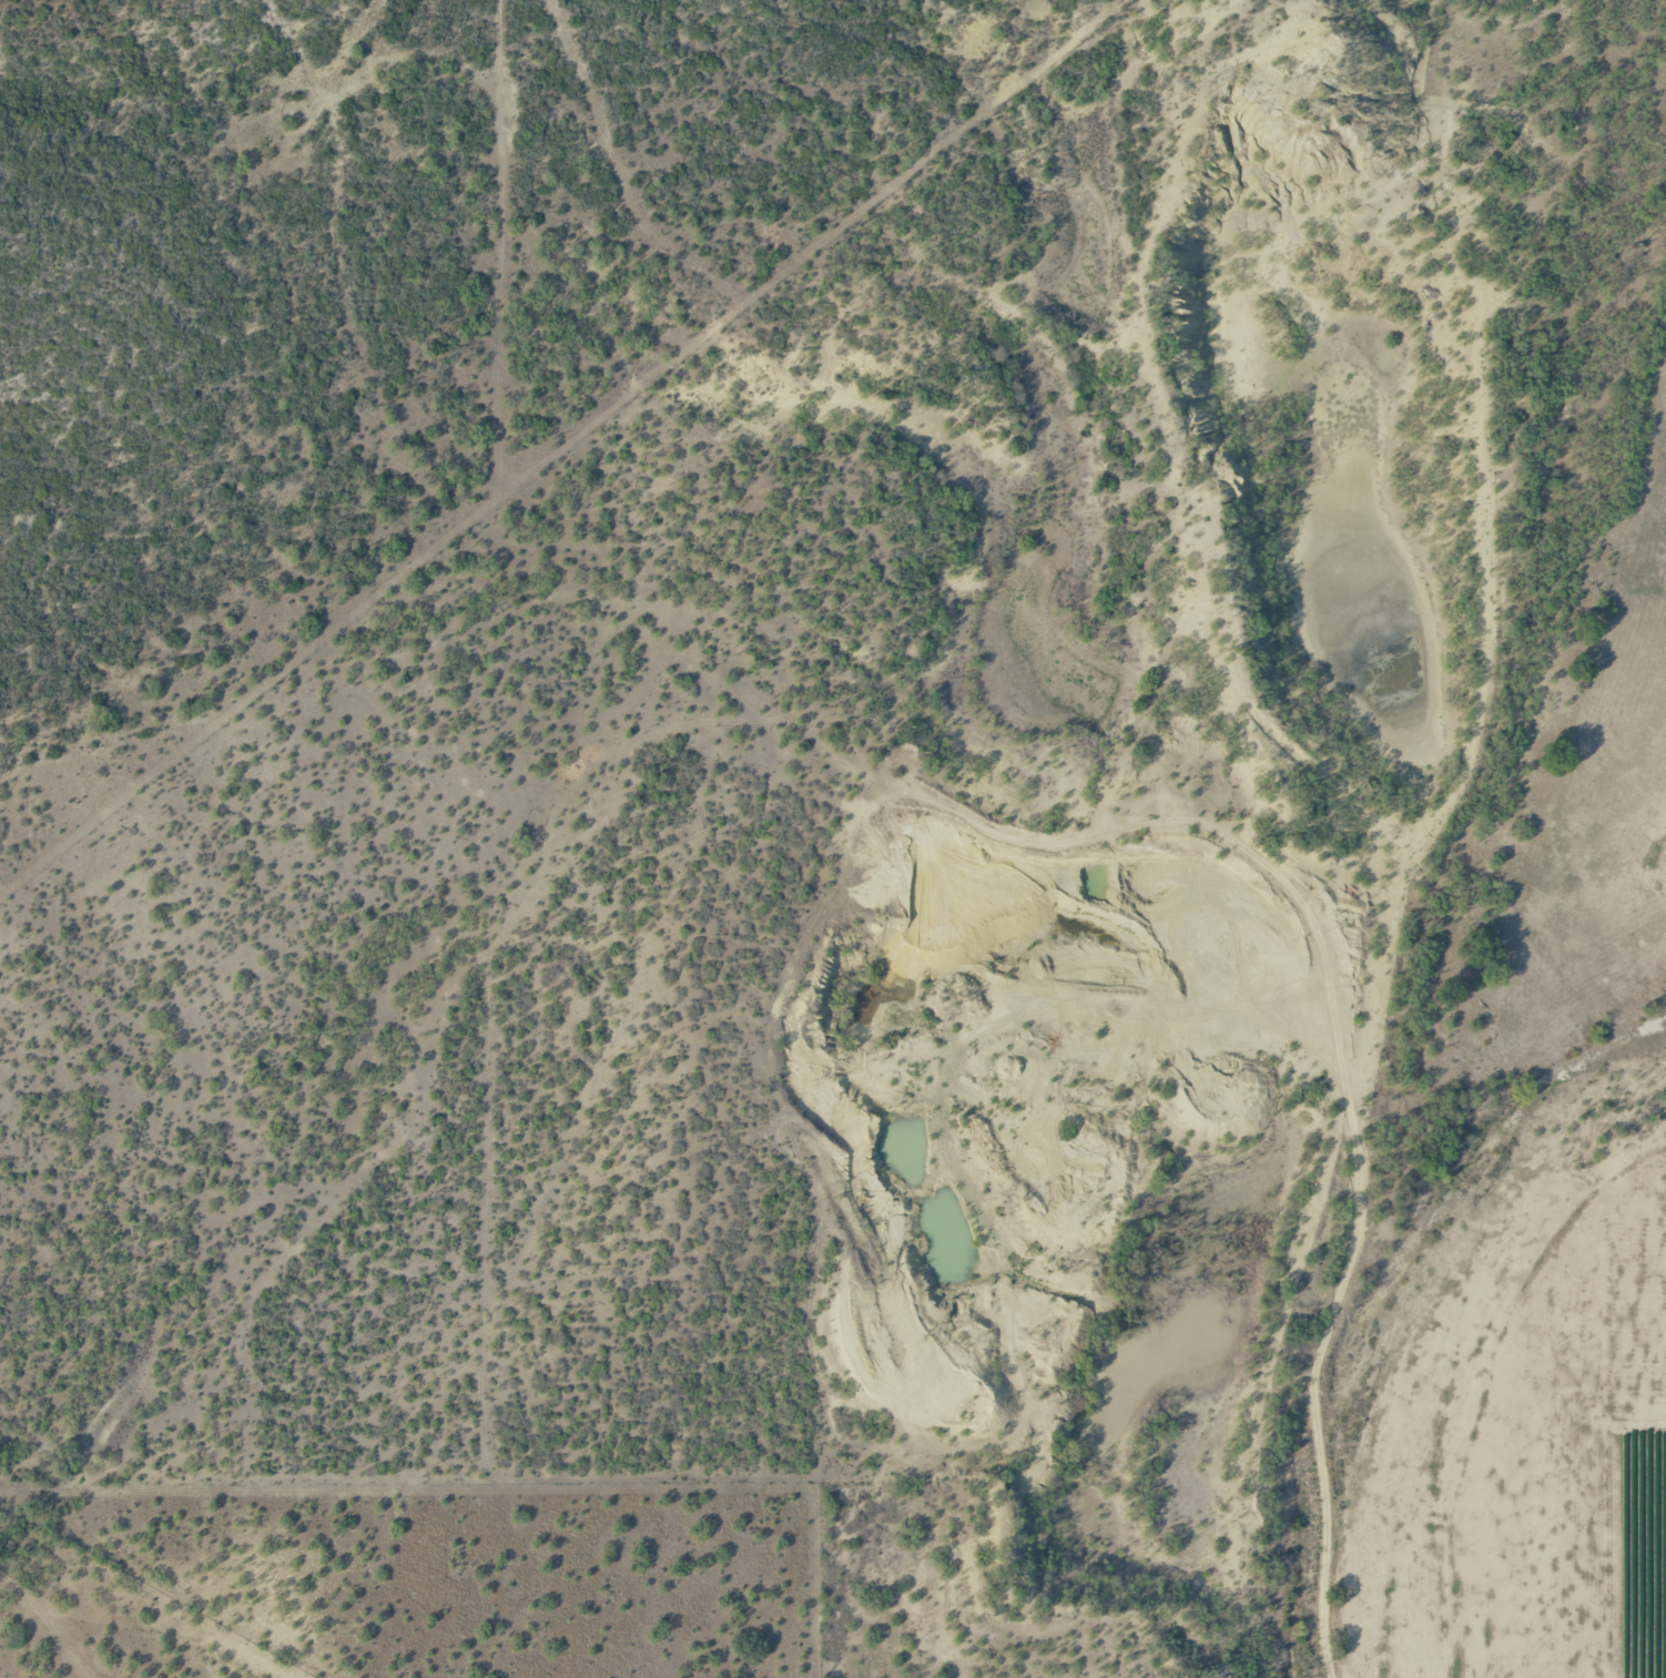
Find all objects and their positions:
road: (1325, 1659)

